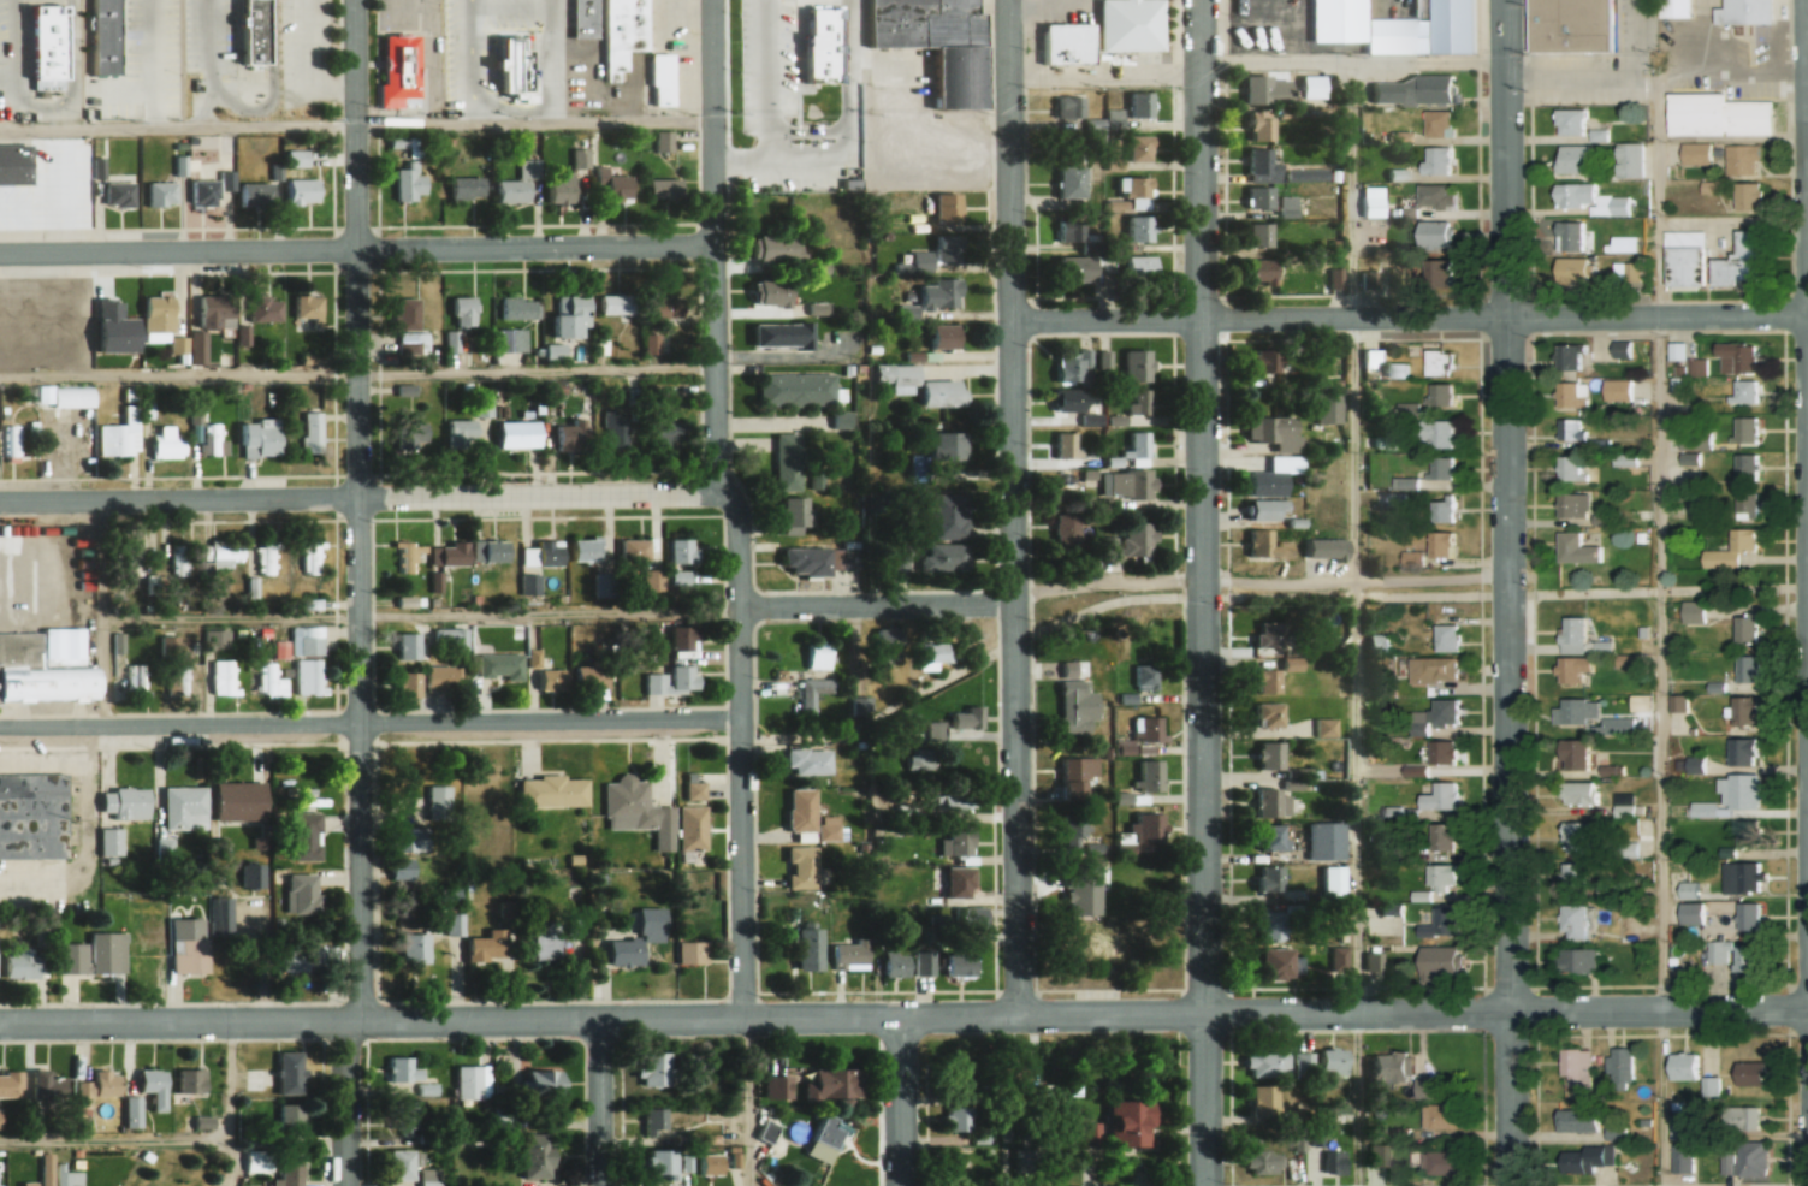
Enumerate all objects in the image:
building: (1679, 7)
building: (748, 13)
building: (1754, 14)
building: (824, 17)
building: (585, 18)
building: (1344, 23)
building: (1131, 24)
building: (1581, 29)
building: (1458, 30)
building: (257, 31)
building: (623, 34)
building: (109, 41)
building: (939, 43)
building: (1069, 43)
building: (53, 52)
road: (468, 61)
building: (509, 64)
road: (1352, 65)
building: (402, 69)
building: (1312, 85)
building: (1269, 89)
building: (1413, 90)
building: (1142, 103)
building: (1071, 105)
building: (1702, 119)
building: (1437, 123)
road: (537, 124)
building: (1579, 124)
building: (1262, 125)
building: (1140, 147)
building: (1697, 153)
building: (1577, 158)
building: (1439, 159)
building: (1632, 159)
building: (1743, 159)
building: (1261, 160)
building: (529, 167)
building: (226, 171)
building: (18, 173)
building: (1073, 182)
building: (409, 183)
building: (613, 184)
building: (467, 186)
building: (665, 188)
building: (562, 189)
building: (302, 190)
building: (512, 190)
building: (119, 192)
building: (203, 192)
building: (1140, 192)
building: (160, 194)
building: (256, 194)
building: (1750, 195)
building: (1435, 196)
building: (1261, 197)
building: (1591, 198)
building: (1288, 204)
building: (948, 206)
building: (1140, 229)
building: (1072, 233)
building: (1261, 233)
building: (1435, 233)
building: (1570, 235)
building: (775, 245)
road: (715, 247)
building: (948, 248)
road: (357, 249)
building: (1687, 257)
building: (1743, 261)
building: (1142, 266)
building: (1077, 269)
building: (1264, 269)
building: (1575, 271)
building: (1439, 273)
building: (1628, 273)
building: (1369, 278)
building: (775, 290)
building: (942, 291)
building: (617, 302)
building: (668, 306)
building: (266, 307)
building: (517, 307)
building: (307, 308)
building: (218, 309)
building: (463, 309)
building: (159, 312)
building: (408, 312)
building: (571, 314)
road: (1411, 318)
building: (781, 333)
building: (944, 336)
building: (511, 338)
building: (451, 340)
building: (651, 342)
building: (413, 343)
building: (198, 346)
building: (1624, 348)
building: (1571, 355)
building: (1739, 355)
building: (1267, 358)
building: (1440, 361)
building: (1138, 363)
building: (1073, 364)
road: (358, 374)
building: (899, 376)
building: (796, 387)
building: (1618, 389)
building: (1747, 391)
building: (408, 392)
building: (944, 392)
building: (1441, 395)
building: (1570, 395)
building: (72, 396)
building: (1073, 398)
building: (1139, 401)
building: (484, 407)
building: (1327, 407)
building: (1270, 427)
building: (1572, 427)
building: (1747, 427)
building: (616, 428)
building: (313, 431)
building: (520, 432)
building: (668, 432)
building: (1436, 432)
building: (121, 433)
building: (463, 433)
building: (571, 434)
building: (260, 437)
building: (413, 437)
building: (8, 439)
building: (212, 439)
building: (167, 441)
building: (949, 444)
building: (1066, 444)
building: (1138, 445)
building: (789, 462)
building: (1745, 465)
building: (919, 467)
building: (1570, 467)
building: (1442, 469)
building: (1275, 475)
building: (1405, 481)
building: (1133, 482)
road: (358, 497)
building: (1395, 498)
building: (1573, 503)
building: (1747, 503)
road: (1014, 509)
building: (1268, 509)
road: (361, 510)
building: (798, 514)
building: (950, 514)
building: (1069, 524)
building: (1140, 538)
building: (1444, 542)
building: (1269, 544)
building: (1333, 546)
building: (586, 547)
building: (1578, 547)
building: (491, 548)
building: (1732, 548)
building: (635, 550)
building: (682, 550)
building: (455, 552)
building: (543, 552)
building: (947, 556)
building: (226, 557)
building: (267, 557)
building: (309, 557)
building: (405, 557)
building: (179, 558)
building: (824, 559)
building: (678, 576)
road: (1262, 580)
building: (530, 583)
building: (605, 583)
road: (1510, 592)
road: (1655, 592)
road: (1201, 593)
road: (878, 606)
building: (1694, 611)
road: (107, 612)
road: (425, 613)
road: (1351, 625)
building: (1575, 627)
building: (1747, 627)
building: (1270, 634)
building: (450, 635)
building: (1448, 635)
building: (683, 636)
building: (217, 638)
building: (308, 639)
building: (891, 640)
building: (1379, 642)
building: (408, 645)
building: (280, 647)
building: (819, 653)
building: (935, 656)
building: (502, 664)
building: (1294, 664)
building: (176, 666)
building: (1576, 666)
building: (1748, 666)
building: (1436, 668)
building: (41, 672)
building: (589, 675)
building: (221, 676)
building: (308, 676)
building: (440, 676)
building: (1145, 676)
building: (135, 677)
building: (553, 677)
building: (674, 678)
building: (271, 680)
building: (1268, 680)
building: (409, 682)
building: (813, 693)
building: (1078, 705)
building: (1577, 708)
building: (1748, 708)
building: (1270, 713)
building: (968, 716)
building: (1436, 716)
road: (371, 723)
building: (1326, 725)
building: (1146, 727)
building: (1745, 748)
road: (743, 749)
building: (1447, 749)
building: (1578, 752)
building: (1271, 753)
building: (921, 758)
building: (808, 760)
building: (1299, 772)
building: (1150, 773)
building: (1078, 775)
building: (695, 789)
building: (1742, 789)
building: (555, 790)
building: (1582, 791)
building: (1442, 795)
building: (242, 799)
building: (955, 799)
building: (126, 802)
building: (1273, 802)
building: (429, 803)
building: (185, 807)
building: (641, 808)
building: (802, 808)
building: (1705, 808)
building: (35, 824)
building: (693, 826)
building: (830, 828)
building: (1073, 830)
building: (1144, 831)
building: (1749, 831)
building: (307, 835)
building: (1446, 835)
building: (1269, 836)
building: (1578, 836)
building: (411, 838)
building: (1327, 840)
building: (111, 841)
building: (960, 841)
building: (165, 849)
building: (802, 866)
building: (404, 870)
building: (1572, 871)
building: (1444, 873)
building: (1742, 877)
building: (1270, 878)
building: (1334, 879)
building: (960, 882)
building: (1691, 889)
building: (303, 893)
building: (1693, 912)
building: (221, 914)
building: (1750, 914)
building: (972, 917)
building: (938, 919)
building: (1575, 919)
building: (1442, 921)
building: (1271, 923)
building: (455, 924)
building: (150, 927)
building: (1101, 929)
building: (546, 938)
building: (190, 944)
building: (490, 945)
building: (415, 947)
building: (811, 947)
building: (693, 950)
building: (626, 951)
building: (93, 954)
building: (852, 954)
building: (1737, 954)
building: (304, 956)
building: (1444, 959)
building: (1581, 959)
building: (23, 961)
building: (895, 961)
building: (925, 961)
building: (1279, 962)
building: (961, 963)
road: (903, 1019)
building: (1335, 1060)
building: (1268, 1063)
building: (1304, 1065)
building: (1620, 1065)
building: (1577, 1066)
building: (659, 1068)
building: (1392, 1068)
building: (1694, 1071)
building: (290, 1072)
building: (1754, 1072)
building: (408, 1077)
building: (191, 1080)
building: (473, 1080)
building: (545, 1080)
building: (11, 1083)
building: (835, 1084)
building: (48, 1085)
building: (154, 1085)
building: (773, 1086)
building: (1433, 1087)
building: (96, 1089)
building: (1267, 1101)
road: (754, 1102)
road: (902, 1102)
road: (603, 1103)
road: (231, 1104)
road: (349, 1104)
building: (132, 1111)
building: (1448, 1115)
building: (0, 1117)
building: (408, 1117)
building: (960, 1117)
building: (292, 1119)
building: (1748, 1119)
building: (1132, 1121)
building: (656, 1122)
building: (1582, 1122)
building: (1679, 1125)
building: (767, 1129)
building: (1616, 1129)
building: (825, 1137)
road: (115, 1139)
building: (1293, 1140)
building: (1379, 1154)
building: (538, 1155)
building: (1583, 1157)
building: (1680, 1157)
building: (1747, 1158)
building: (257, 1160)
building: (662, 1161)
building: (1263, 1161)
building: (1335, 1161)
building: (1446, 1161)
building: (404, 1163)
building: (712, 1163)
building: (290, 1169)
building: (70, 1178)
building: (431, 1178)

